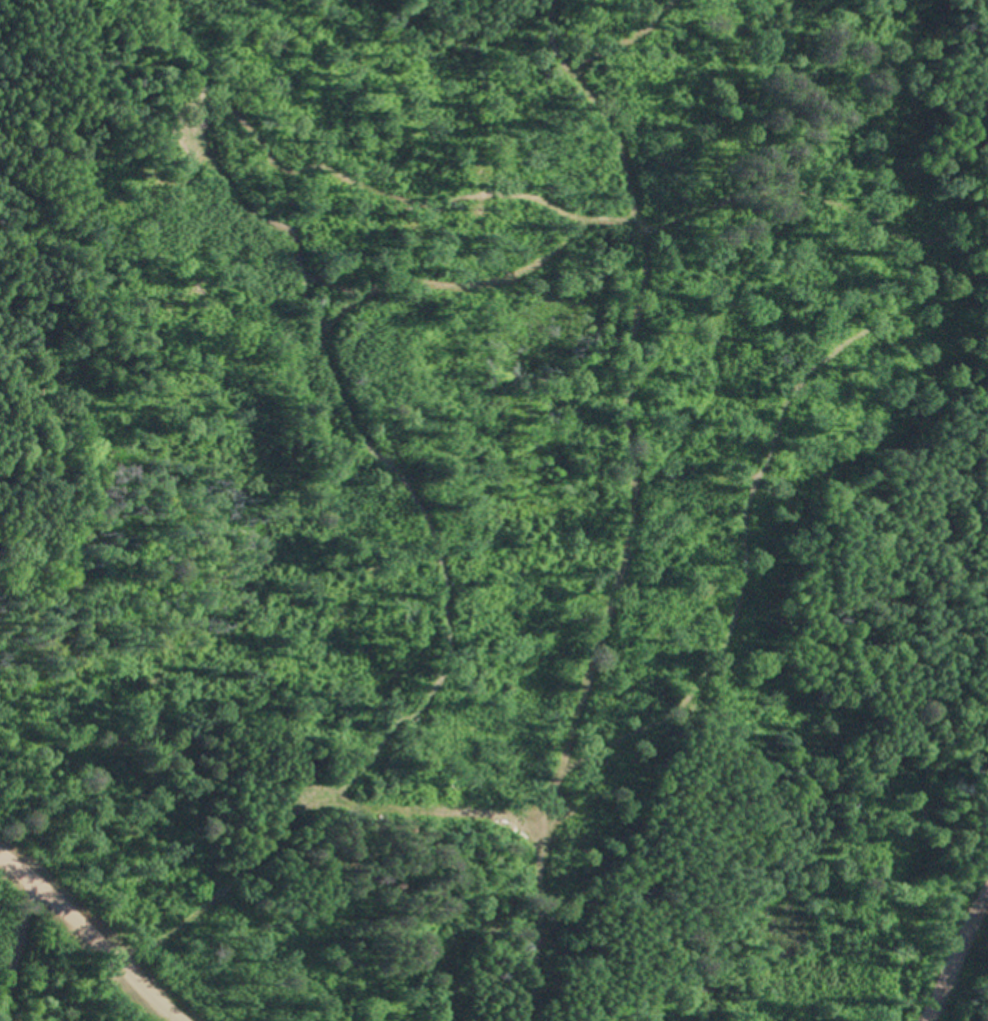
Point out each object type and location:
road: (94, 935)
road: (954, 960)

